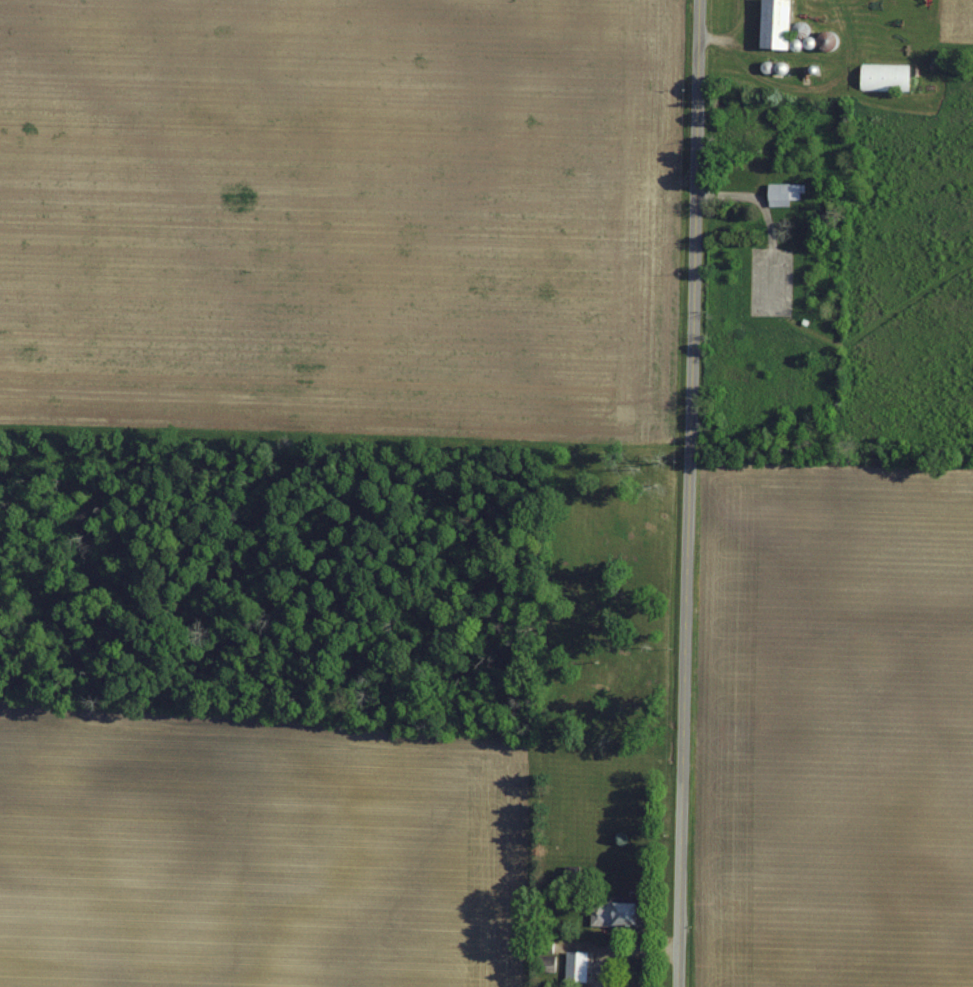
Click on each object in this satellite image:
road: (741, 50)
road: (767, 84)
road: (755, 195)
parking lot: (769, 279)
road: (881, 315)
road: (937, 348)
road: (686, 493)

